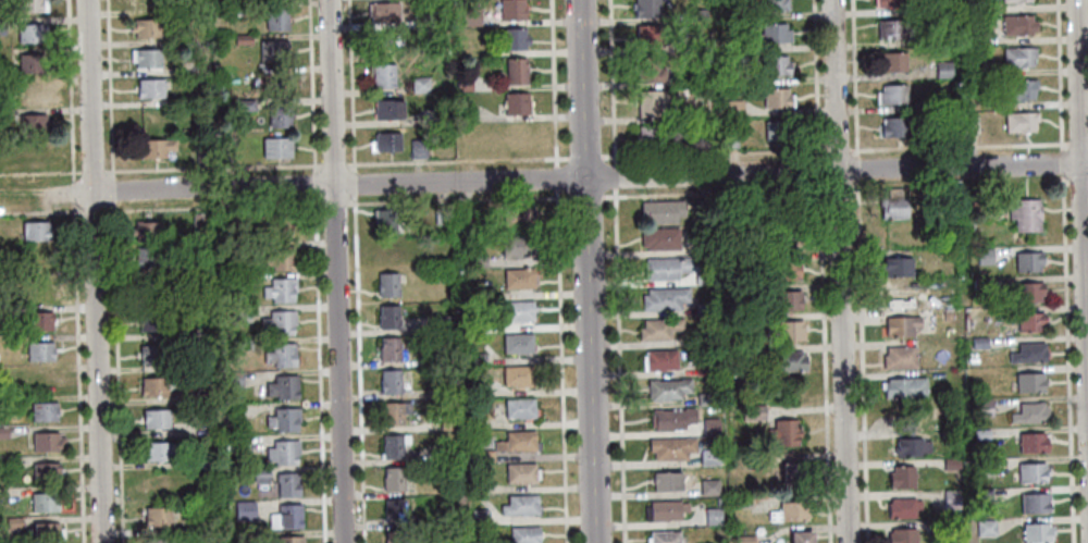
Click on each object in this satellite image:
building: (1015, 1)
building: (149, 3)
building: (888, 3)
building: (772, 4)
building: (29, 5)
building: (965, 7)
building: (646, 9)
building: (511, 10)
building: (384, 13)
building: (697, 14)
building: (739, 14)
building: (470, 16)
building: (275, 18)
building: (420, 21)
building: (1017, 25)
building: (1, 26)
building: (148, 27)
building: (891, 30)
building: (29, 33)
building: (771, 34)
building: (646, 36)
building: (973, 37)
building: (242, 39)
building: (512, 39)
building: (698, 41)
building: (390, 46)
building: (730, 46)
building: (272, 50)
building: (1017, 58)
building: (147, 59)
building: (29, 62)
building: (891, 62)
building: (775, 66)
building: (942, 70)
building: (987, 70)
building: (650, 71)
building: (516, 72)
road: (1060, 73)
building: (382, 76)
building: (732, 78)
building: (275, 81)
building: (462, 83)
building: (419, 85)
road: (350, 86)
road: (311, 87)
building: (149, 88)
building: (1021, 89)
road: (70, 90)
road: (109, 90)
building: (891, 96)
building: (196, 98)
building: (777, 98)
building: (652, 103)
building: (516, 104)
building: (931, 104)
building: (245, 106)
building: (732, 109)
building: (387, 110)
building: (465, 113)
building: (279, 116)
building: (945, 121)
building: (1019, 122)
building: (32, 123)
building: (968, 124)
building: (892, 127)
building: (777, 132)
building: (648, 137)
building: (728, 139)
building: (387, 141)
road: (1077, 141)
building: (154, 148)
building: (275, 148)
building: (417, 149)
road: (706, 156)
building: (200, 157)
road: (1062, 162)
road: (334, 166)
road: (213, 170)
road: (92, 174)
road: (40, 175)
road: (580, 178)
road: (1065, 182)
road: (1077, 184)
road: (354, 185)
road: (314, 186)
road: (73, 194)
road: (112, 194)
road: (602, 199)
building: (940, 202)
building: (893, 205)
building: (704, 206)
building: (993, 206)
road: (334, 207)
building: (754, 207)
road: (213, 209)
road: (92, 211)
building: (660, 211)
road: (39, 212)
building: (463, 213)
building: (441, 214)
building: (1025, 215)
building: (517, 218)
building: (384, 220)
building: (200, 222)
building: (225, 222)
building: (781, 224)
building: (280, 227)
building: (35, 231)
building: (146, 231)
road: (1081, 236)
building: (659, 239)
building: (517, 246)
building: (703, 246)
building: (388, 251)
building: (984, 256)
building: (147, 257)
building: (280, 259)
building: (38, 261)
building: (478, 261)
building: (1027, 261)
building: (898, 268)
building: (186, 269)
building: (665, 269)
building: (786, 270)
road: (92, 271)
road: (335, 271)
road: (558, 271)
road: (588, 271)
road: (617, 271)
road: (821, 271)
road: (839, 271)
road: (858, 271)
building: (518, 279)
building: (702, 279)
building: (240, 282)
building: (980, 283)
building: (387, 285)
building: (152, 288)
building: (44, 291)
building: (280, 291)
building: (1028, 292)
building: (469, 294)
building: (664, 299)
building: (787, 300)
building: (703, 309)
building: (518, 311)
building: (2, 313)
building: (238, 313)
building: (948, 316)
building: (387, 317)
building: (38, 320)
building: (150, 321)
building: (1029, 322)
building: (277, 323)
building: (443, 323)
building: (472, 326)
building: (900, 326)
building: (658, 329)
building: (788, 331)
building: (197, 334)
building: (703, 337)
building: (978, 343)
building: (517, 344)
building: (243, 345)
building: (388, 348)
building: (737, 350)
building: (38, 351)
building: (152, 354)
building: (1028, 354)
building: (281, 356)
building: (899, 358)
building: (477, 359)
road: (1066, 359)
building: (787, 360)
building: (659, 361)
building: (726, 365)
building: (197, 366)
building: (704, 366)
road: (319, 370)
road: (359, 370)
road: (77, 373)
road: (116, 374)
building: (517, 375)
building: (44, 380)
building: (233, 380)
building: (390, 382)
building: (1028, 383)
building: (154, 386)
building: (282, 387)
building: (904, 388)
building: (667, 390)
building: (473, 392)
building: (200, 397)
building: (705, 399)
building: (2, 403)
building: (981, 407)
building: (519, 408)
building: (42, 411)
building: (233, 412)
building: (753, 412)
building: (392, 414)
building: (1028, 414)
building: (154, 419)
building: (283, 420)
building: (671, 420)
building: (447, 422)
building: (473, 424)
building: (709, 427)
building: (3, 433)
building: (784, 434)
building: (980, 435)
building: (908, 440)
building: (47, 442)
building: (518, 442)
building: (1030, 443)
building: (238, 444)
building: (393, 446)
building: (670, 448)
building: (159, 451)
building: (444, 452)
building: (283, 453)
building: (484, 456)
building: (708, 457)
building: (11, 461)
building: (199, 462)
building: (950, 464)
building: (984, 467)
building: (45, 471)
building: (1031, 472)
building: (521, 473)
building: (792, 474)
building: (260, 476)
building: (395, 478)
building: (901, 478)
building: (666, 482)
building: (159, 483)
building: (286, 484)
building: (478, 486)
building: (708, 488)
building: (982, 493)
building: (459, 498)
building: (951, 499)
building: (719, 501)
building: (44, 502)
building: (741, 502)
building: (1033, 504)
building: (520, 505)
building: (902, 508)
building: (243, 510)
building: (666, 510)
building: (393, 511)
building: (789, 511)
building: (712, 516)
building: (158, 517)
building: (286, 517)
building: (479, 517)
building: (13, 523)
building: (196, 526)
building: (937, 526)
building: (225, 527)
building: (985, 528)
building: (730, 529)
building: (45, 531)
building: (1037, 533)
building: (524, 534)
building: (901, 535)
building: (394, 536)
building: (663, 538)
building: (800, 538)
building: (290, 540)
building: (744, 540)
building: (158, 541)

